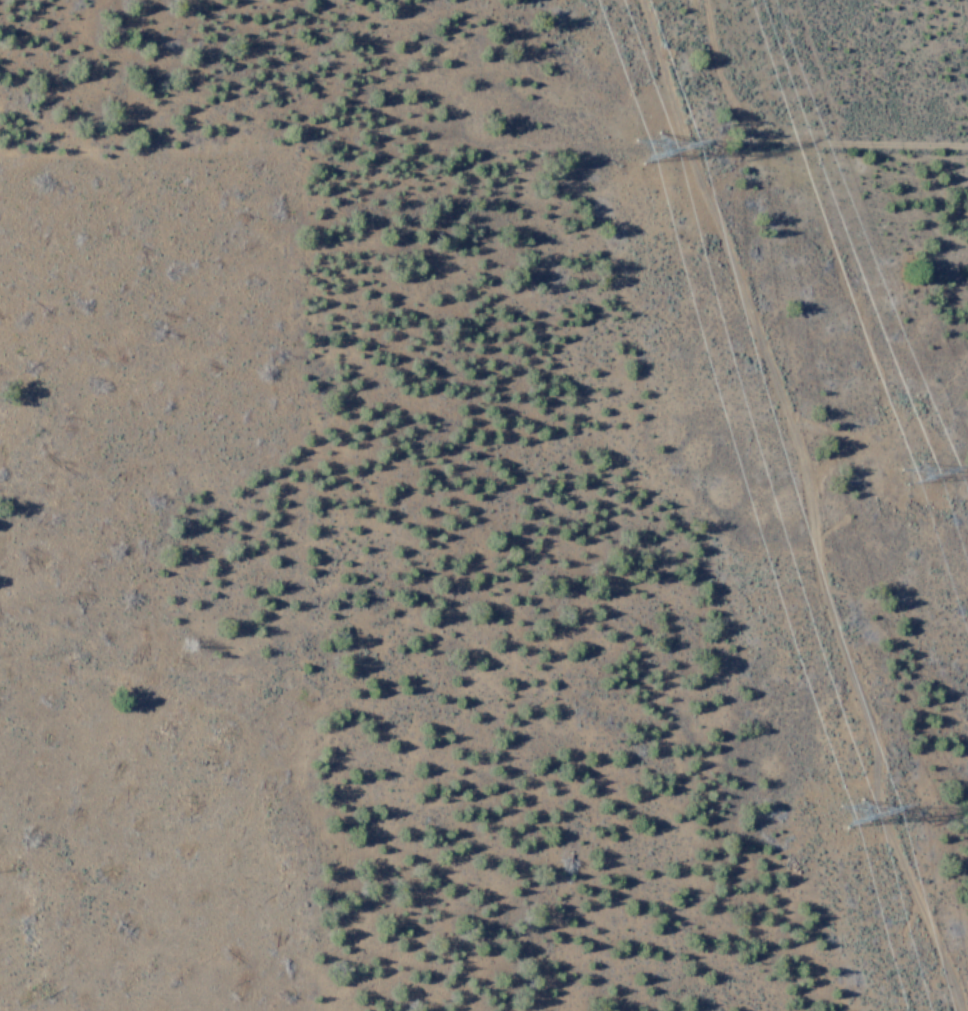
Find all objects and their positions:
power tower: (671, 149)
power tower: (938, 477)
road: (807, 506)
power tower: (870, 814)

